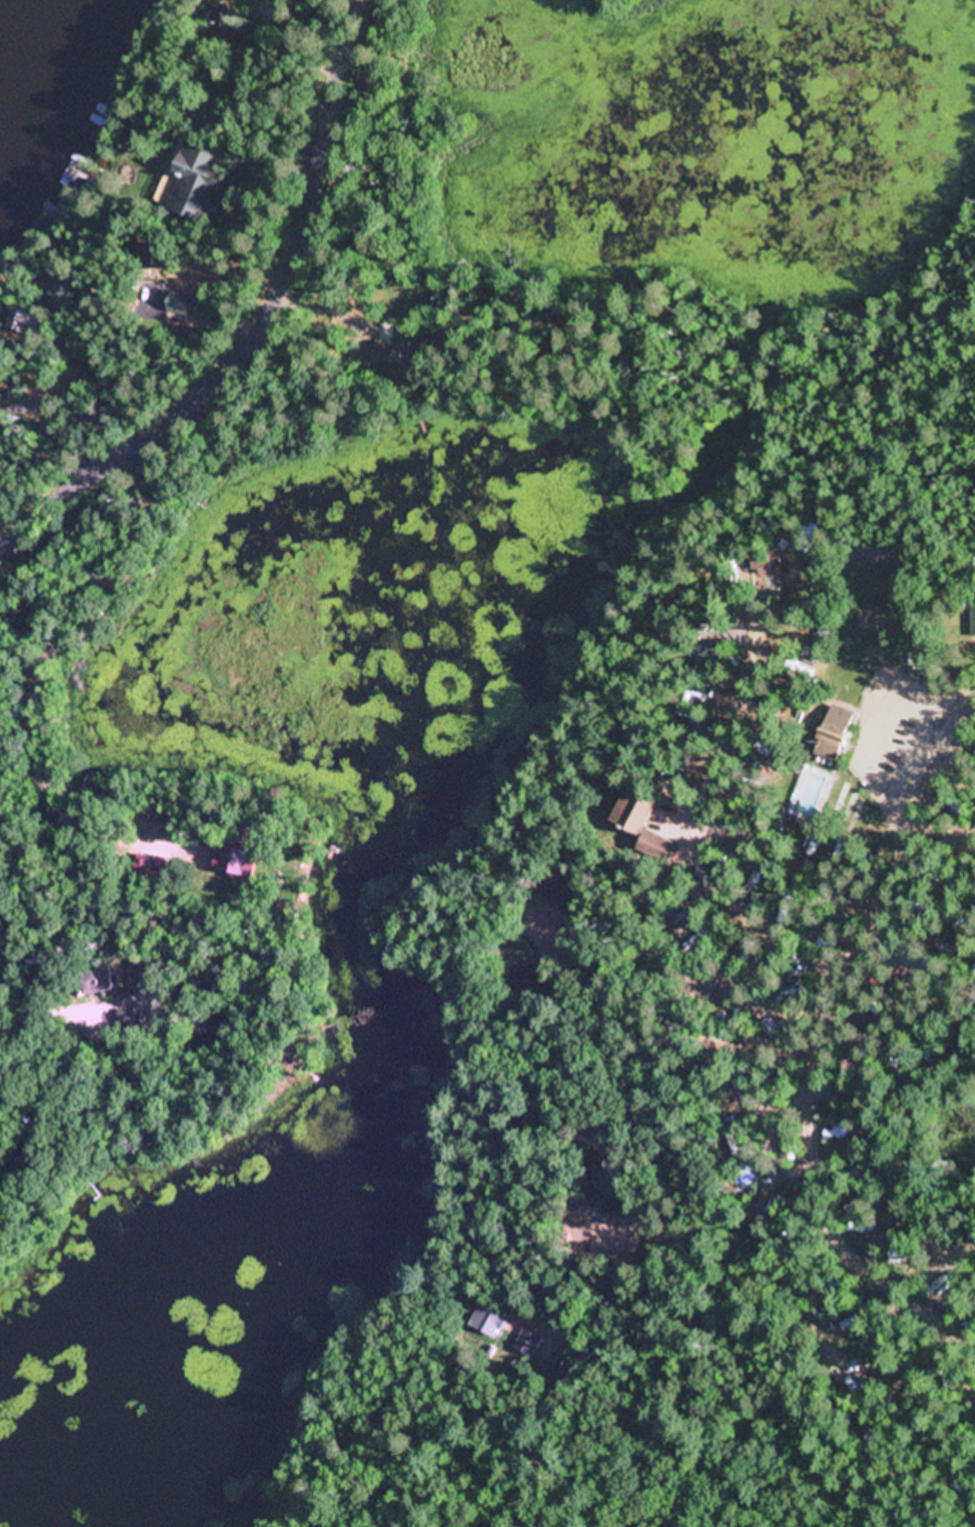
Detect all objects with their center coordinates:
building: (231, 28)
building: (196, 183)
building: (65, 291)
building: (179, 303)
building: (25, 323)
road: (259, 328)
building: (394, 352)
building: (7, 380)
building: (962, 635)
building: (837, 735)
building: (646, 826)
building: (238, 860)
building: (146, 867)
building: (568, 890)
building: (527, 979)
road: (828, 1033)
building: (786, 1148)
road: (698, 1181)
building: (487, 1319)
building: (527, 1343)
road: (962, 1402)
road: (912, 1472)
road: (841, 1512)

